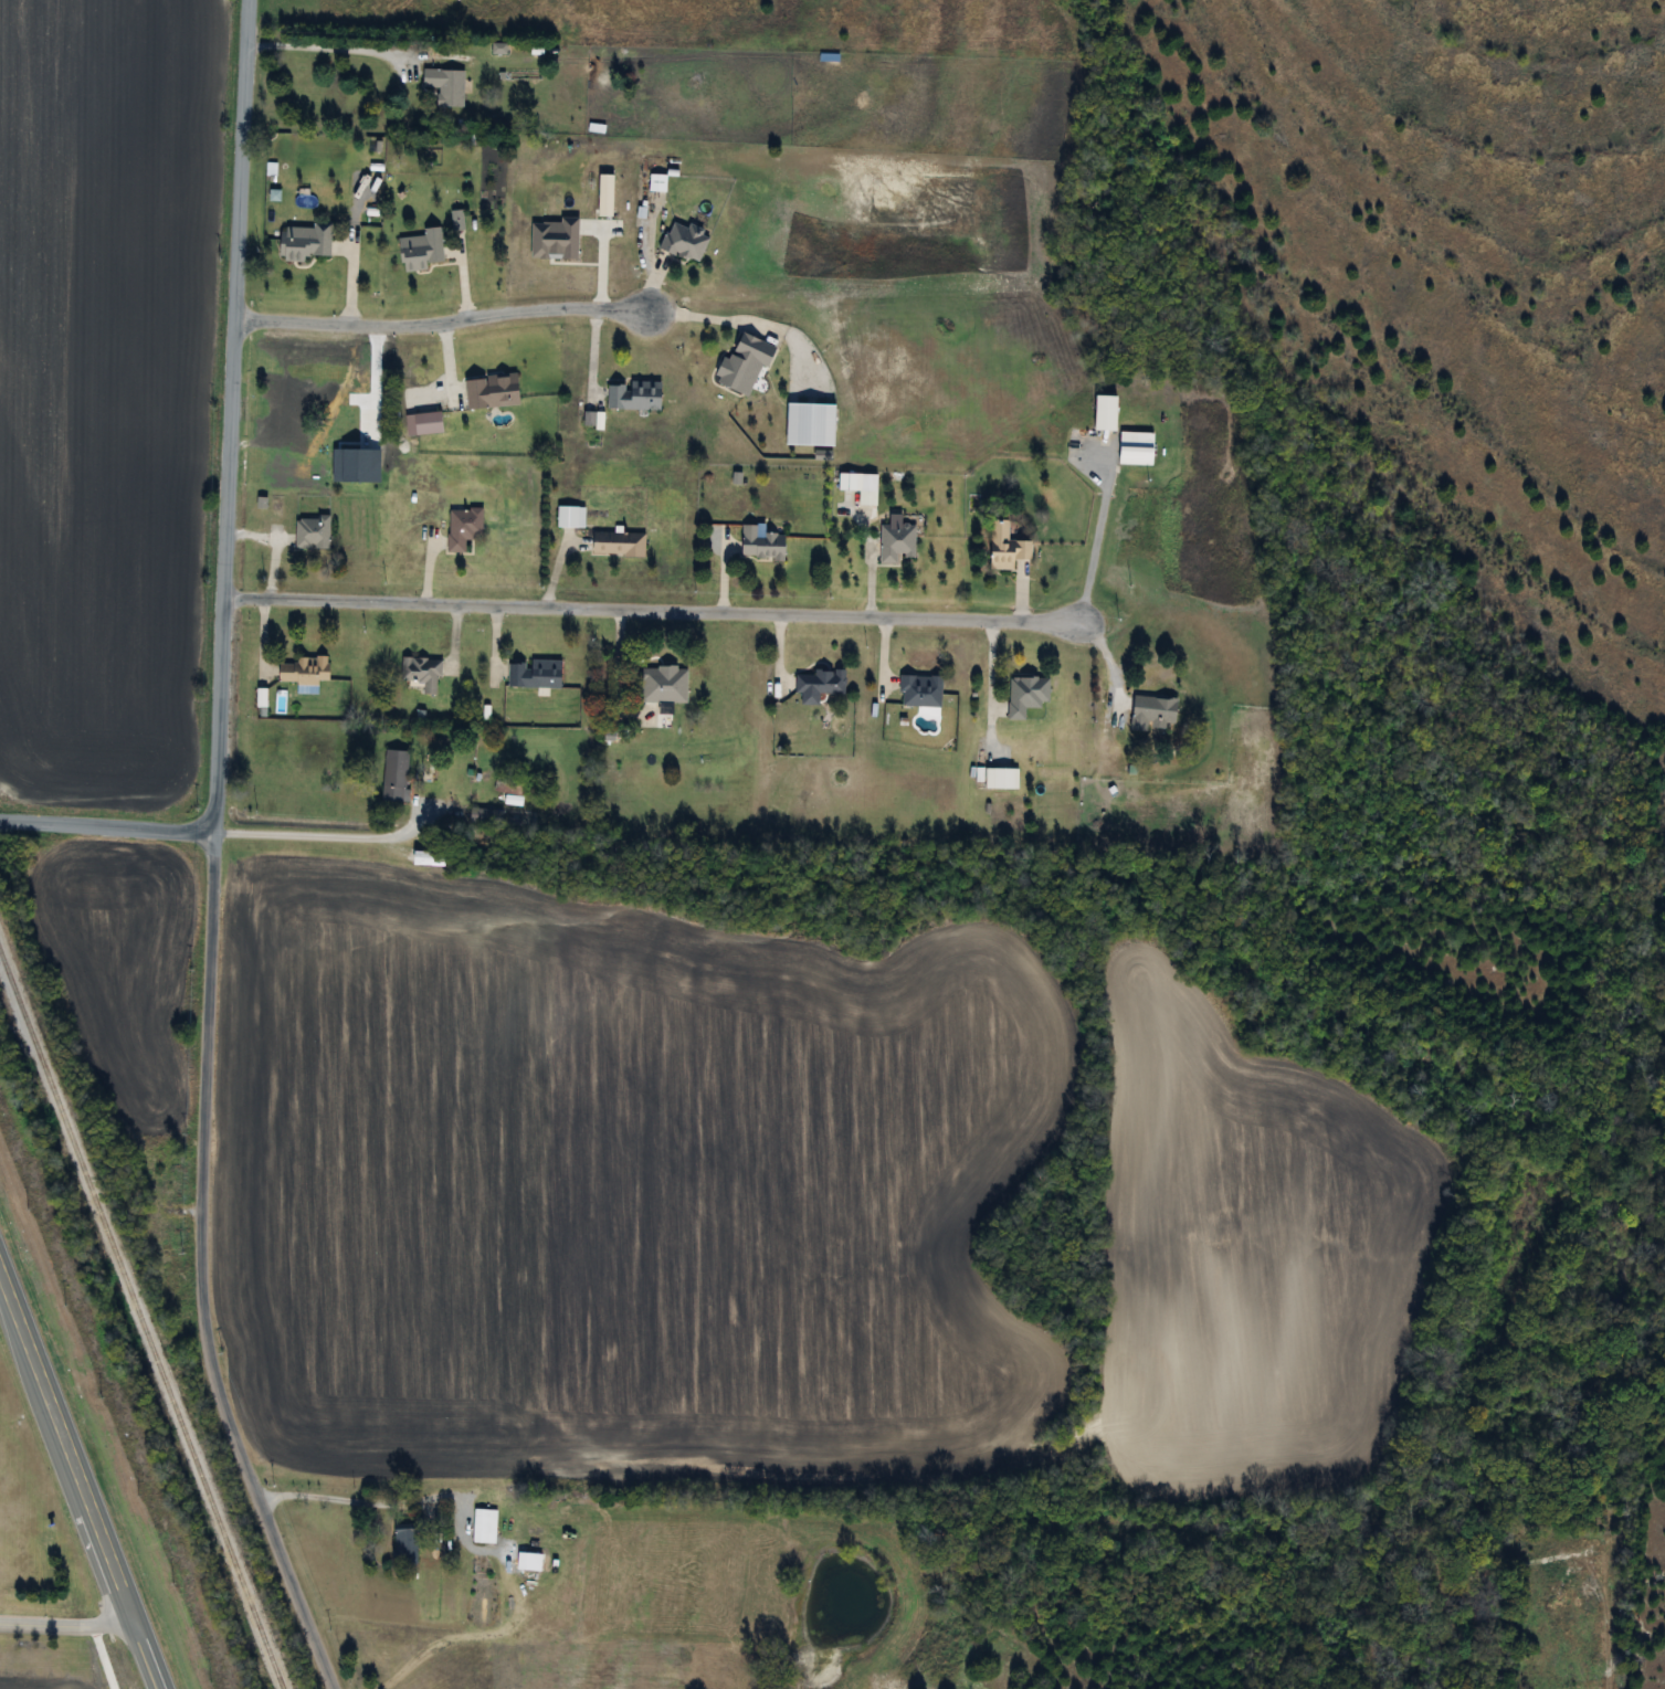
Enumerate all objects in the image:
road: (324, 46)
building: (444, 86)
building: (655, 183)
building: (304, 242)
building: (683, 242)
building: (420, 250)
road: (714, 314)
road: (439, 320)
building: (741, 365)
road: (370, 378)
building: (488, 391)
building: (632, 395)
building: (288, 411)
building: (1103, 411)
road: (229, 416)
building: (808, 423)
building: (1134, 447)
building: (866, 482)
building: (569, 516)
building: (462, 527)
building: (310, 532)
road: (1094, 540)
building: (894, 541)
building: (758, 542)
building: (615, 543)
building: (1004, 546)
road: (649, 612)
building: (302, 671)
building: (420, 673)
building: (533, 674)
building: (662, 684)
building: (818, 685)
building: (918, 690)
building: (1024, 695)
building: (1150, 714)
building: (394, 777)
building: (1000, 778)
building: (507, 785)
building: (483, 816)
road: (106, 827)
road: (324, 835)
building: (155, 1189)
road: (204, 1271)
railway: (140, 1322)
road: (77, 1482)
building: (483, 1527)
building: (402, 1543)
road: (473, 1549)
building: (527, 1562)
road: (65, 1627)
building: (1528, 1688)

